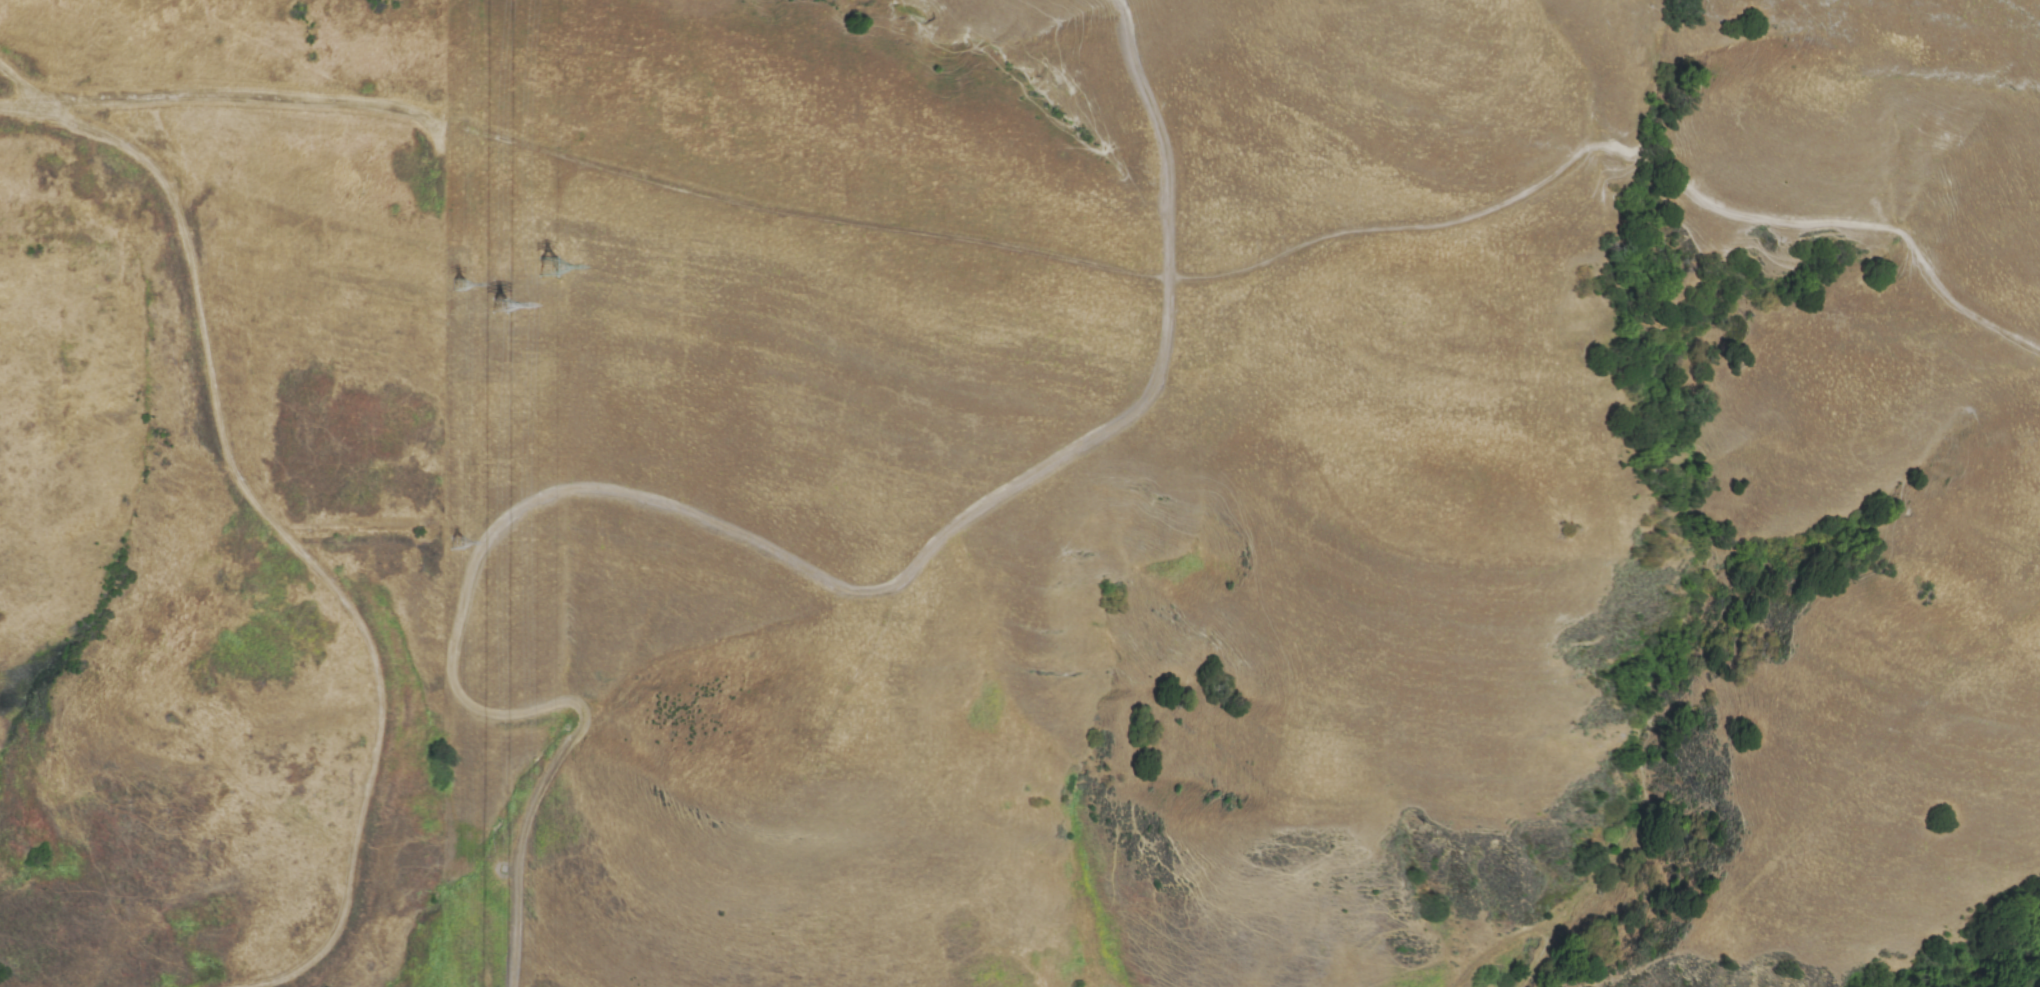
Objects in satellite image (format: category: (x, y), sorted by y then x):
road: (28, 83)
road: (2, 104)
road: (1502, 207)
power tower: (549, 268)
power tower: (461, 287)
power tower: (502, 297)
road: (1130, 413)
power tower: (460, 538)
road: (293, 541)

